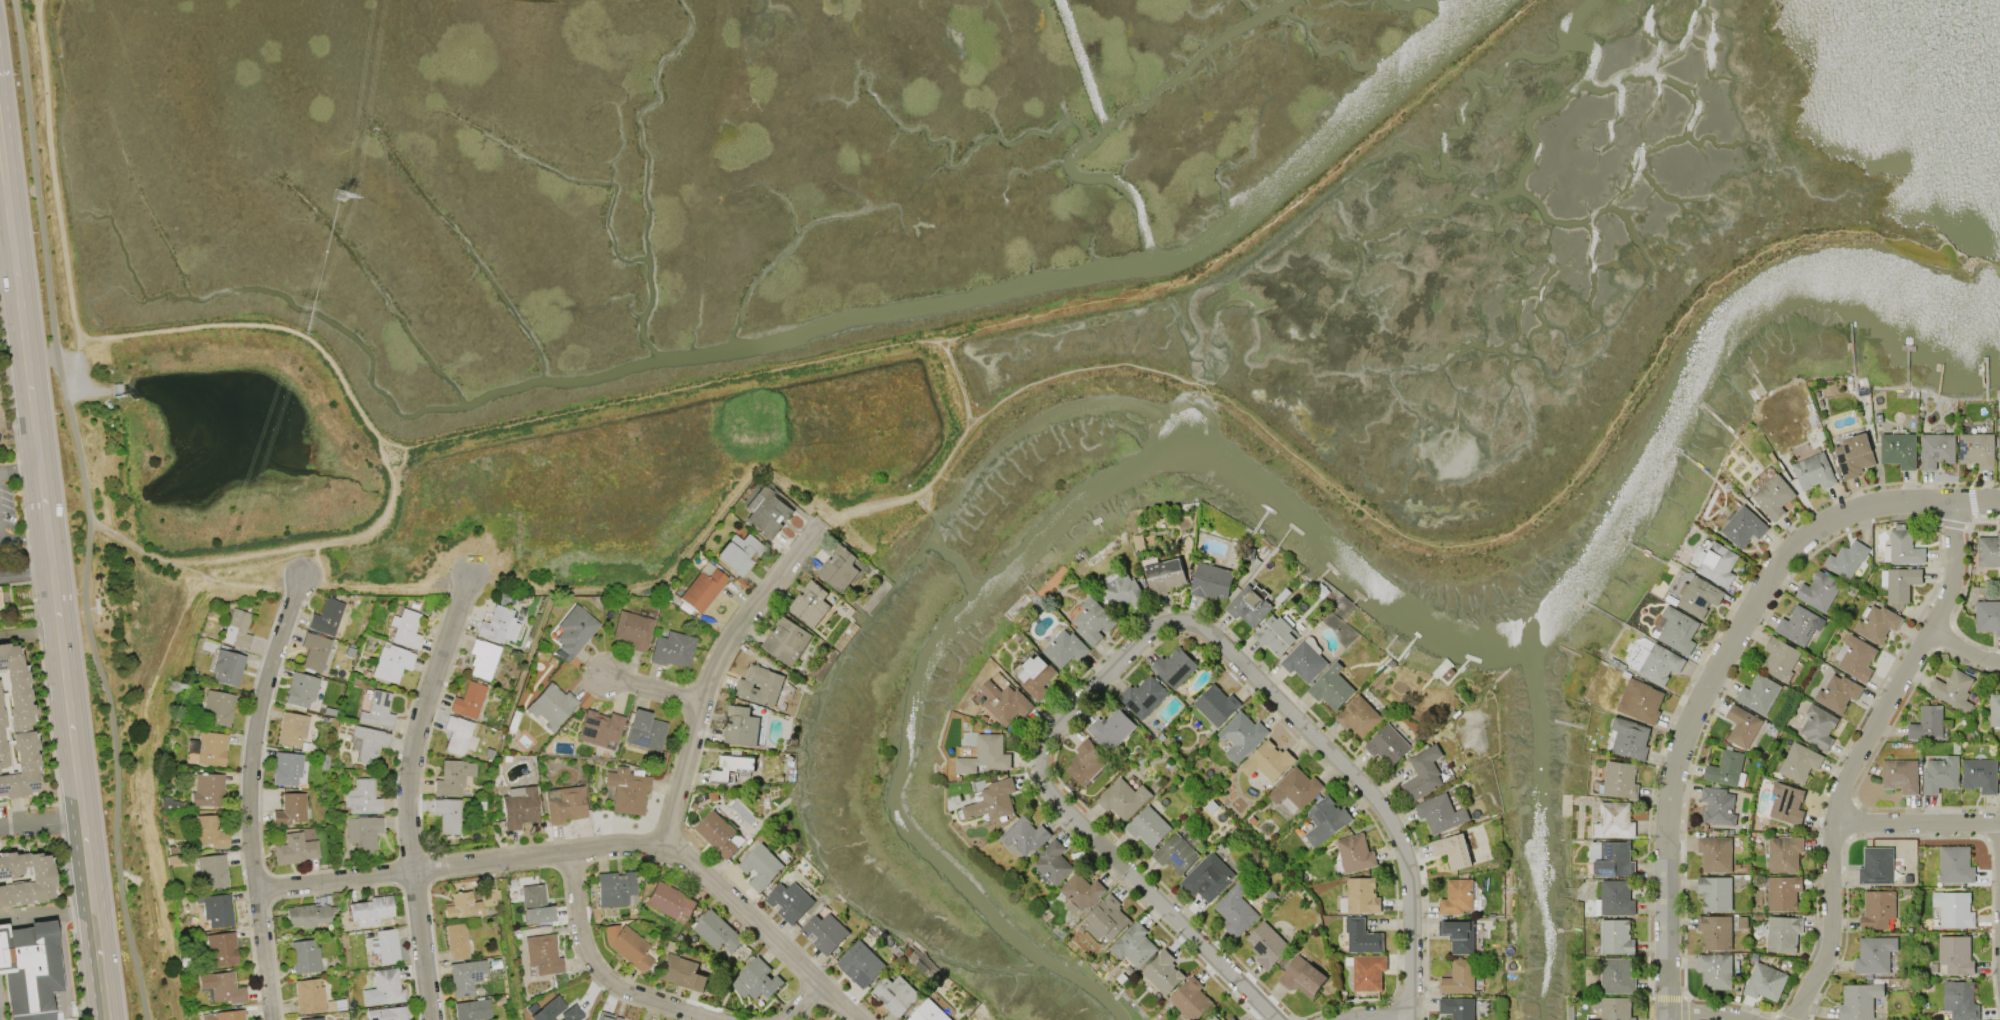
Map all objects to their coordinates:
road: (0, 63)
road: (0, 69)
road: (5, 193)
power tower: (339, 195)
road: (1266, 223)
road: (6, 241)
road: (7, 269)
road: (84, 340)
road: (72, 350)
road: (805, 365)
building: (1899, 449)
building: (1936, 450)
building: (1977, 450)
building: (1999, 452)
building: (1854, 455)
road: (19, 468)
building: (1814, 471)
road: (393, 481)
building: (1772, 495)
road: (89, 509)
building: (766, 511)
building: (1742, 527)
road: (1507, 533)
road: (20, 542)
building: (1902, 547)
building: (1989, 550)
building: (737, 553)
road: (247, 555)
building: (1846, 559)
road: (313, 560)
building: (1717, 564)
road: (25, 568)
building: (838, 569)
building: (1164, 576)
building: (1211, 581)
building: (1899, 583)
building: (702, 587)
road: (323, 588)
building: (1123, 591)
building: (1819, 591)
building: (1698, 596)
building: (810, 604)
building: (1248, 606)
building: (1987, 616)
building: (326, 617)
building: (1092, 620)
building: (495, 624)
building: (1877, 624)
building: (1799, 625)
building: (405, 628)
building: (236, 629)
road: (59, 630)
building: (574, 630)
building: (632, 630)
building: (1677, 630)
building: (1276, 634)
building: (786, 641)
road: (1147, 641)
building: (1064, 648)
building: (671, 650)
building: (314, 651)
road: (1964, 654)
building: (1779, 657)
building: (1856, 657)
building: (483, 659)
building: (1304, 661)
building: (391, 663)
building: (1658, 663)
building: (227, 667)
building: (1174, 667)
road: (711, 671)
road: (1719, 672)
building: (1034, 676)
power tower: (172, 686)
building: (771, 686)
road: (652, 688)
building: (1331, 688)
building: (1953, 689)
building: (300, 690)
building: (1838, 693)
building: (1758, 694)
building: (1143, 696)
building: (467, 700)
building: (1640, 701)
building: (1004, 702)
building: (1216, 705)
building: (551, 706)
building: (217, 707)
building: (1994, 709)
building: (377, 711)
building: (1359, 716)
building: (1927, 723)
building: (742, 725)
building: (1743, 726)
building: (1818, 726)
building: (599, 728)
building: (1111, 728)
building: (15, 729)
building: (292, 729)
building: (644, 731)
building: (457, 735)
building: (1241, 735)
building: (1629, 738)
building: (368, 743)
building: (1387, 744)
building: (208, 748)
building: (985, 755)
road: (1864, 758)
building: (1268, 761)
building: (1086, 762)
building: (1799, 762)
building: (733, 767)
building: (286, 769)
building: (1726, 769)
building: (1422, 773)
building: (1979, 774)
building: (1900, 775)
building: (1940, 775)
building: (449, 779)
building: (1619, 780)
building: (206, 790)
building: (1295, 790)
building: (627, 791)
road: (409, 792)
road: (254, 794)
building: (362, 798)
building: (1123, 799)
building: (992, 800)
building: (1784, 803)
building: (564, 804)
building: (1718, 805)
building: (518, 807)
building: (290, 809)
building: (1440, 813)
building: (447, 814)
building: (1326, 820)
building: (1613, 820)
road: (41, 821)
building: (1148, 827)
road: (1921, 828)
building: (363, 832)
building: (207, 833)
building: (720, 834)
building: (1024, 837)
road: (586, 849)
building: (294, 850)
building: (1452, 851)
building: (1355, 853)
building: (1715, 853)
building: (1784, 853)
building: (1176, 854)
building: (1611, 858)
building: (1053, 862)
building: (1955, 864)
building: (760, 866)
building: (1876, 866)
building: (211, 872)
building: (1207, 877)
building: (25, 878)
building: (614, 888)
building: (1081, 892)
building: (1715, 892)
building: (1783, 892)
building: (1362, 895)
building: (1456, 897)
building: (487, 898)
building: (1614, 899)
building: (668, 901)
building: (790, 902)
building: (532, 903)
building: (462, 906)
building: (1877, 909)
building: (1954, 909)
building: (370, 910)
building: (1235, 910)
building: (214, 912)
building: (307, 915)
building: (1107, 919)
building: (717, 931)
building: (824, 932)
building: (1715, 932)
building: (1783, 933)
building: (1458, 935)
building: (1361, 936)
building: (1616, 937)
building: (456, 941)
building: (1266, 944)
building: (1134, 945)
building: (627, 946)
building: (385, 947)
building: (221, 949)
building: (1874, 954)
building: (542, 955)
building: (1955, 955)
building: (304, 956)
building: (860, 964)
building: (29, 970)
building: (1715, 970)
road: (599, 971)
building: (1366, 971)
building: (1163, 972)
building: (682, 973)
building: (1616, 976)
building: (465, 977)
building: (1302, 977)
building: (1459, 978)
building: (756, 979)
building: (1764, 981)
building: (222, 988)
building: (383, 988)
building: (308, 995)
building: (895, 995)
building: (1191, 999)
building: (1858, 1001)
building: (1959, 1001)
road: (798, 1004)
building: (1457, 1007)
building: (1615, 1008)
building: (473, 1010)
building: (555, 1011)
building: (928, 1012)
building: (387, 1014)
road: (1368, 1014)
road: (1706, 1014)
building: (231, 1015)
building: (603, 1016)
building: (315, 1018)
building: (616, 1018)
building: (1230, 1018)

